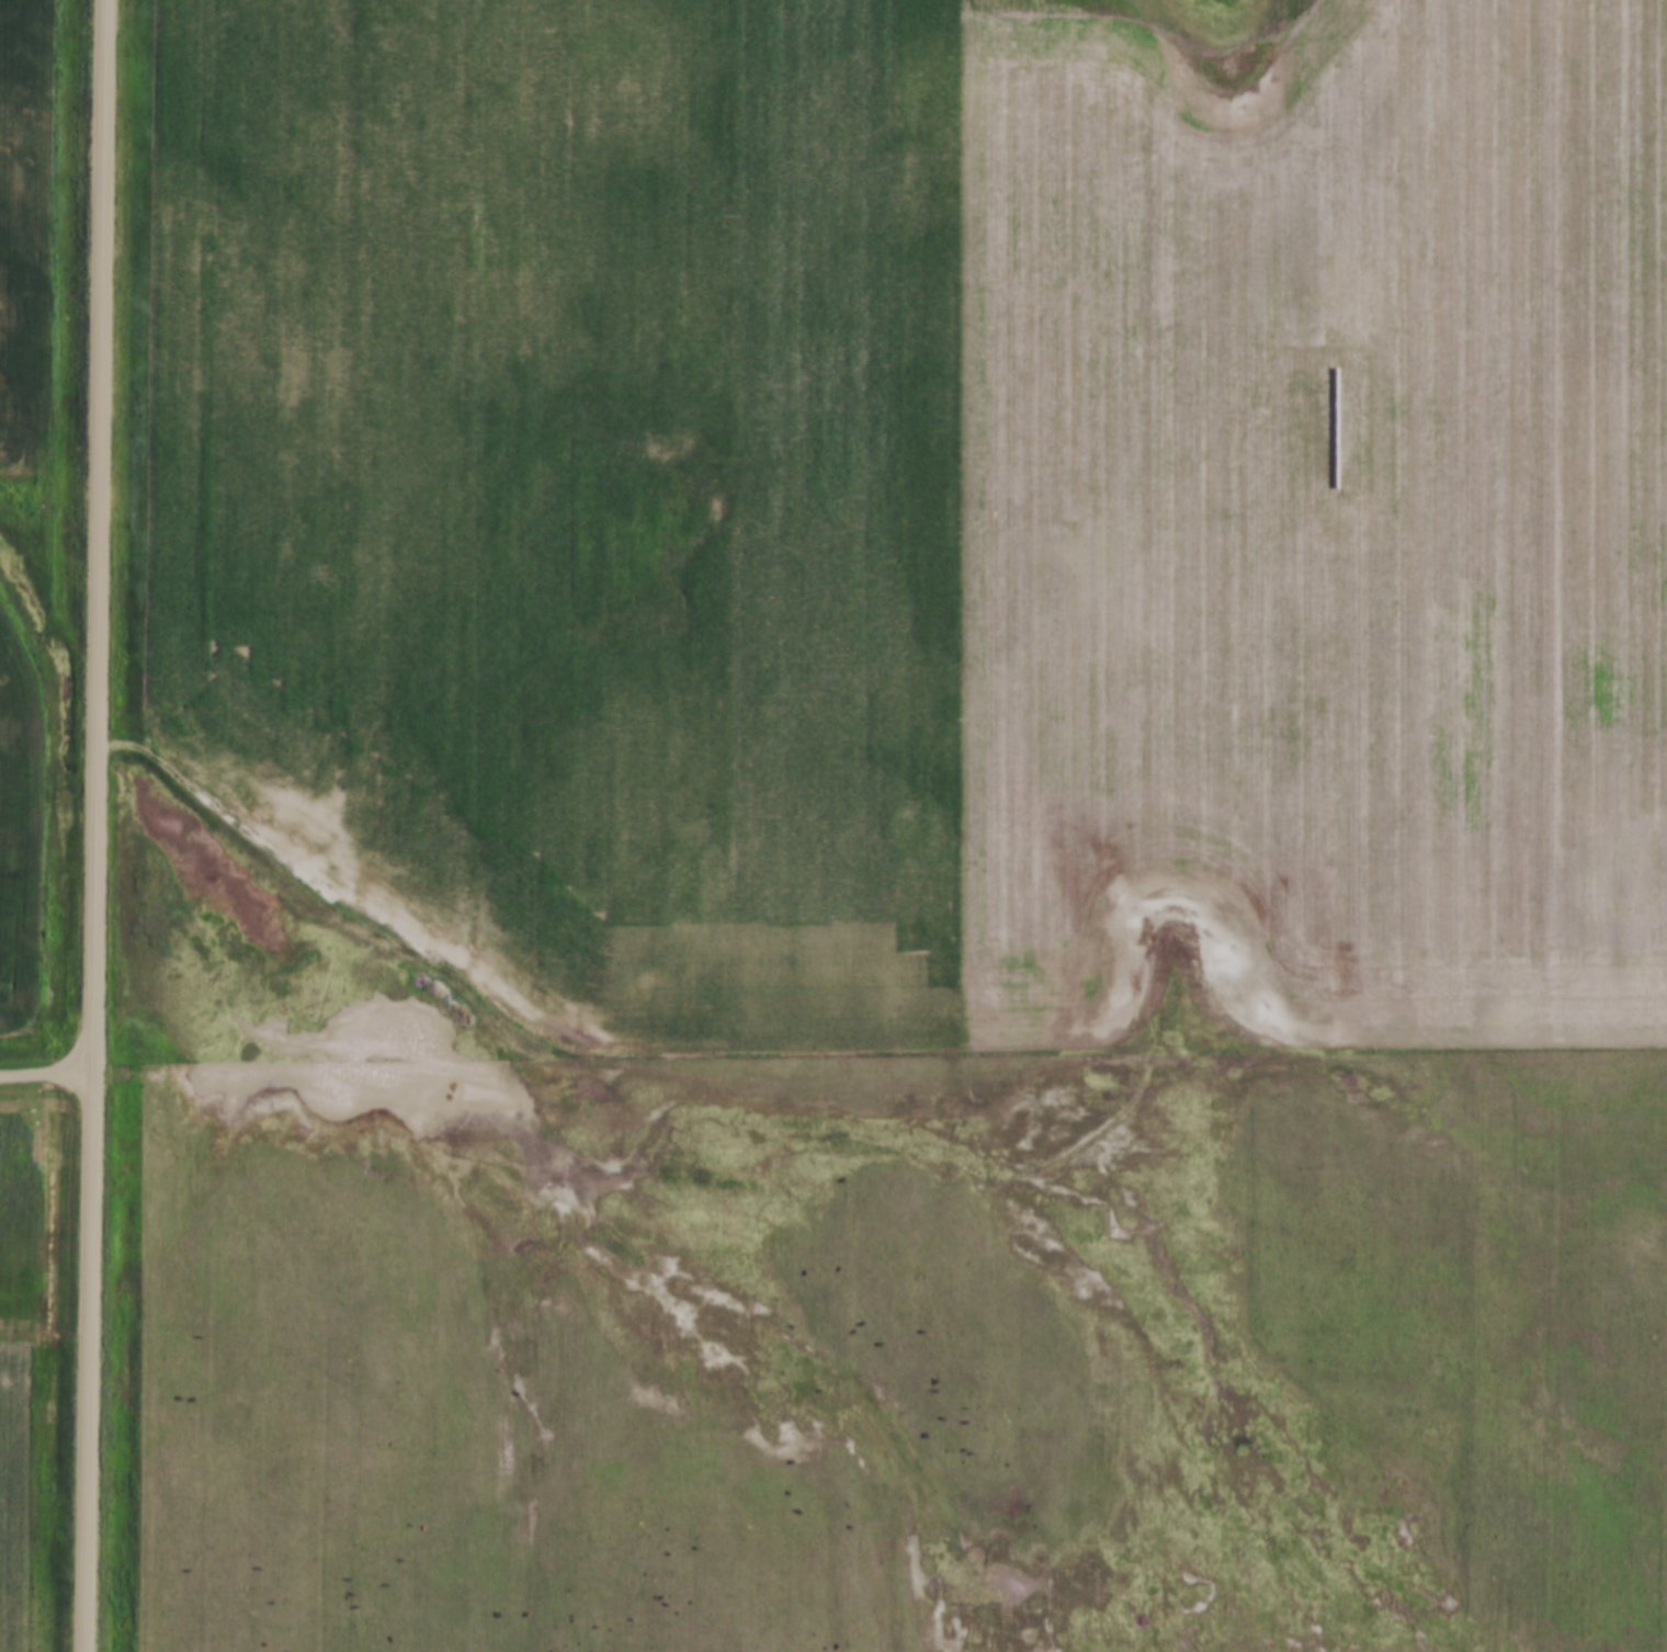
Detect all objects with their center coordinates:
road: (97, 826)
road: (47, 1073)

